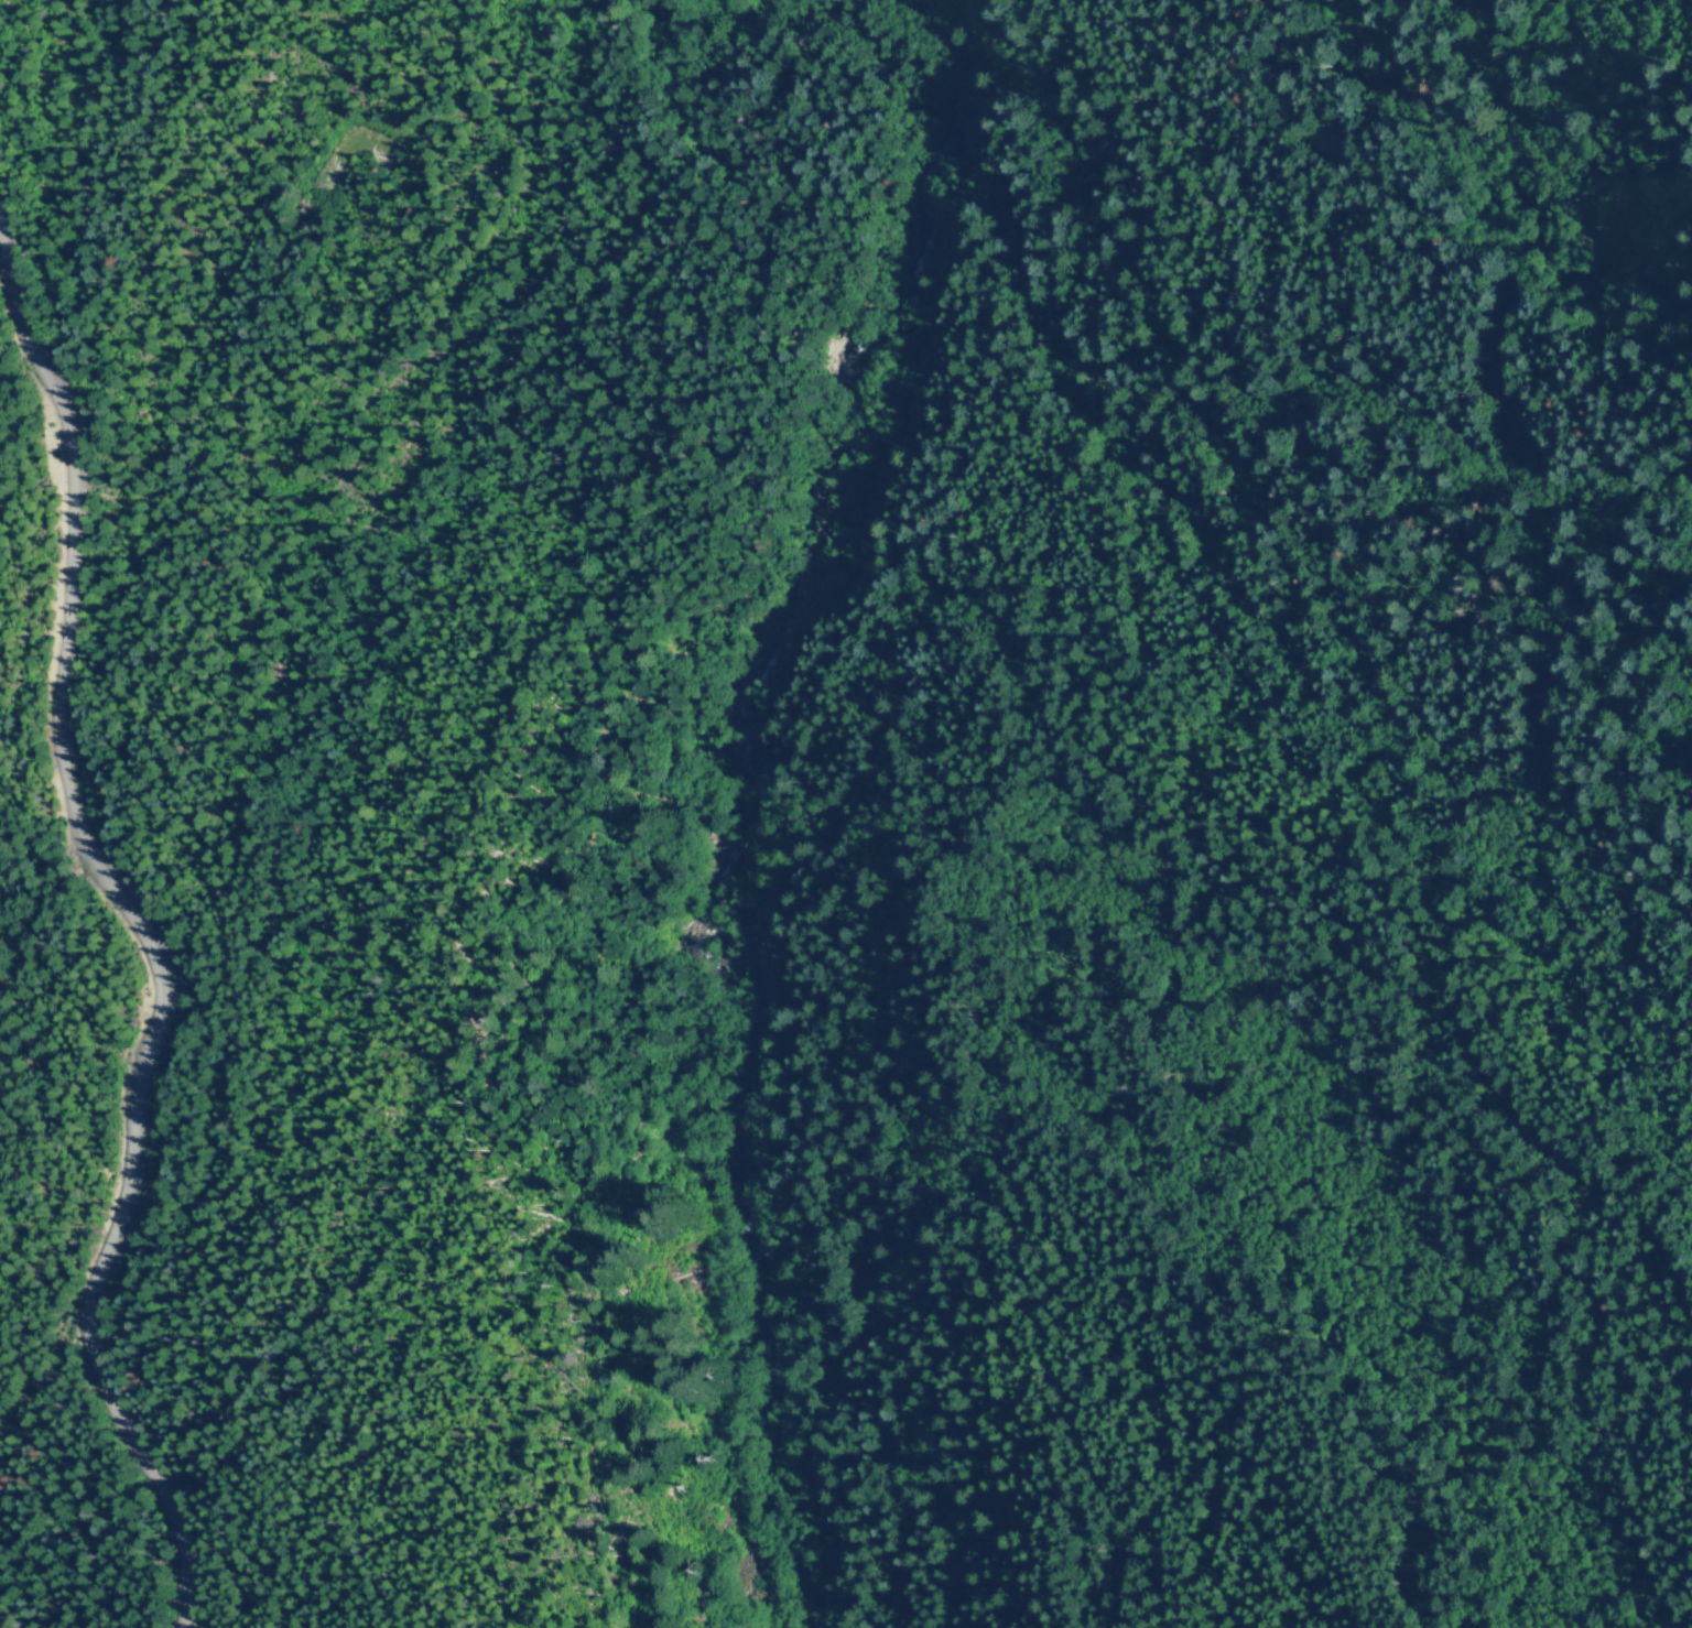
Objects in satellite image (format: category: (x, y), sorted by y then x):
road: (132, 925)

